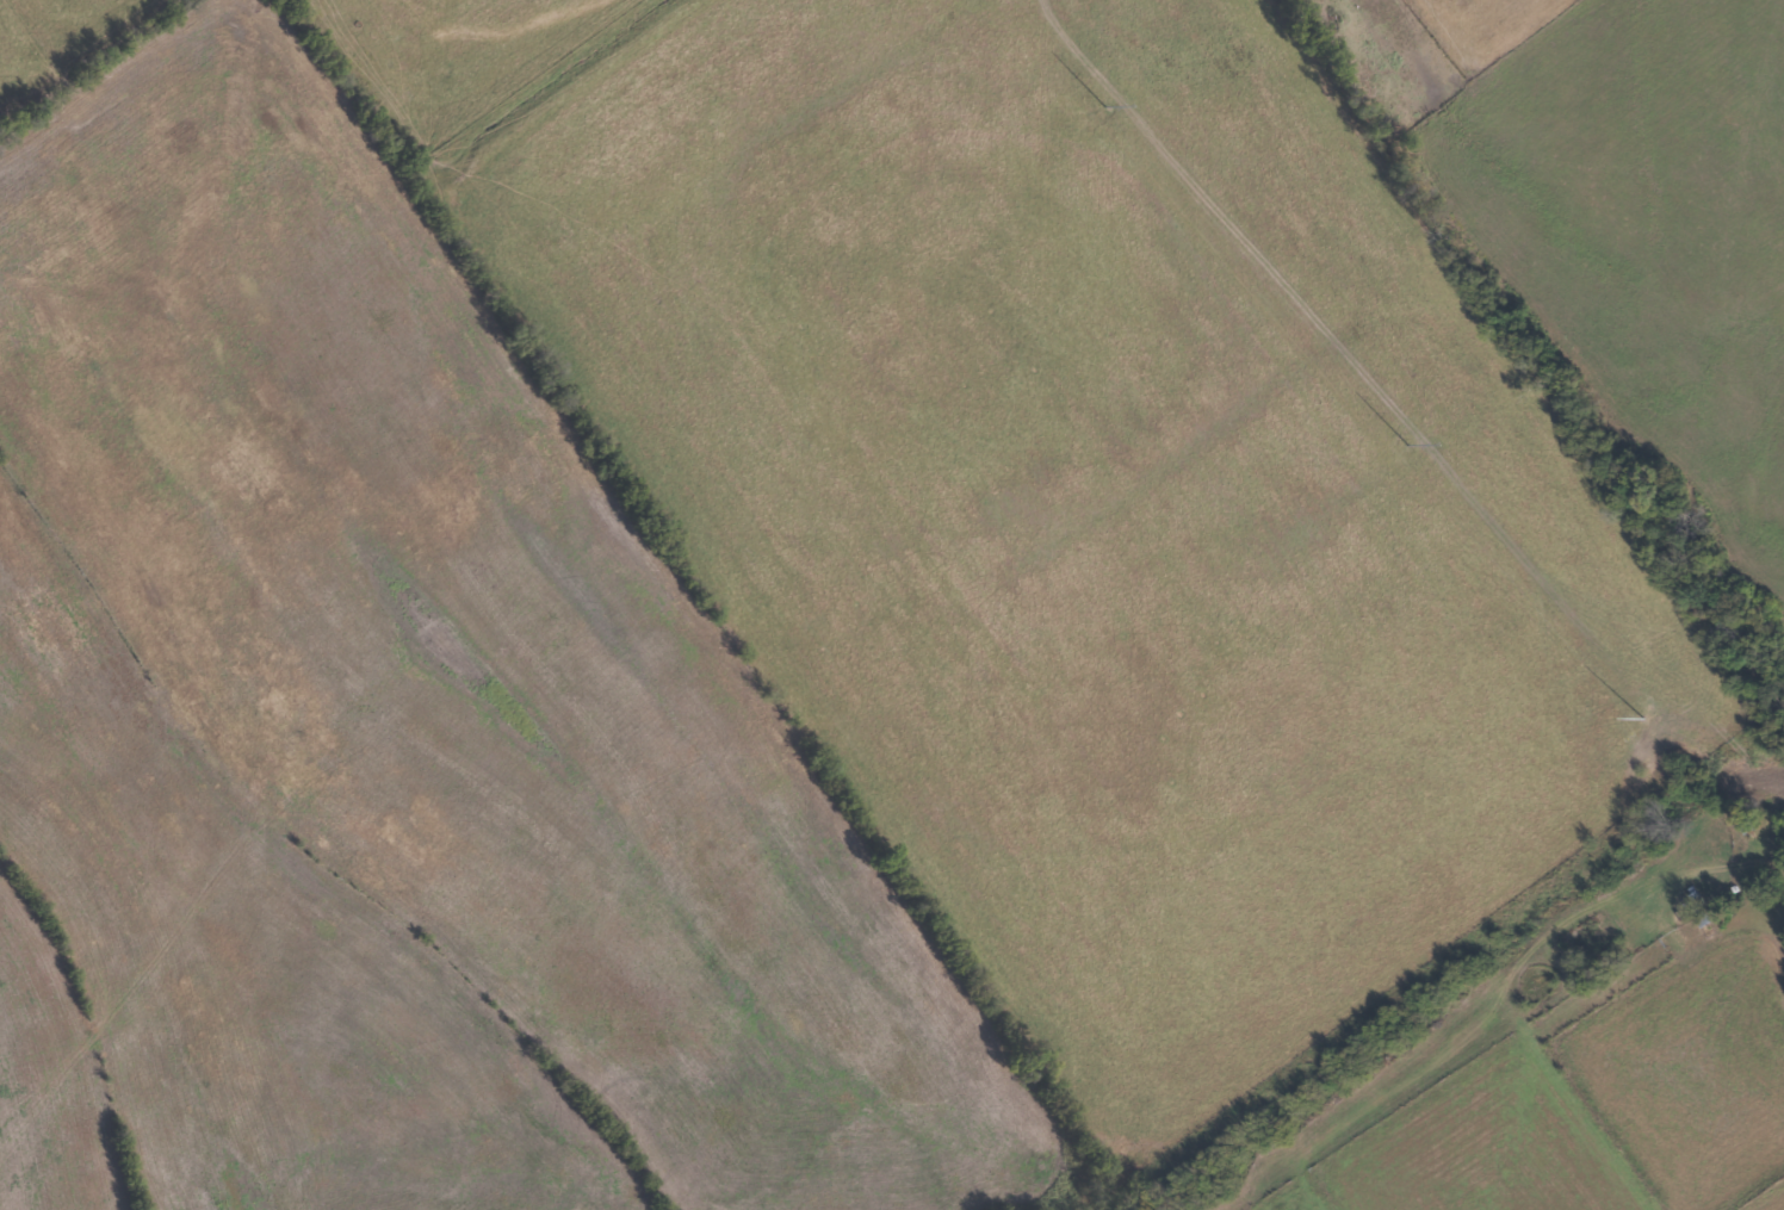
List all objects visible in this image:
building: (1749, 826)
building: (1584, 929)

